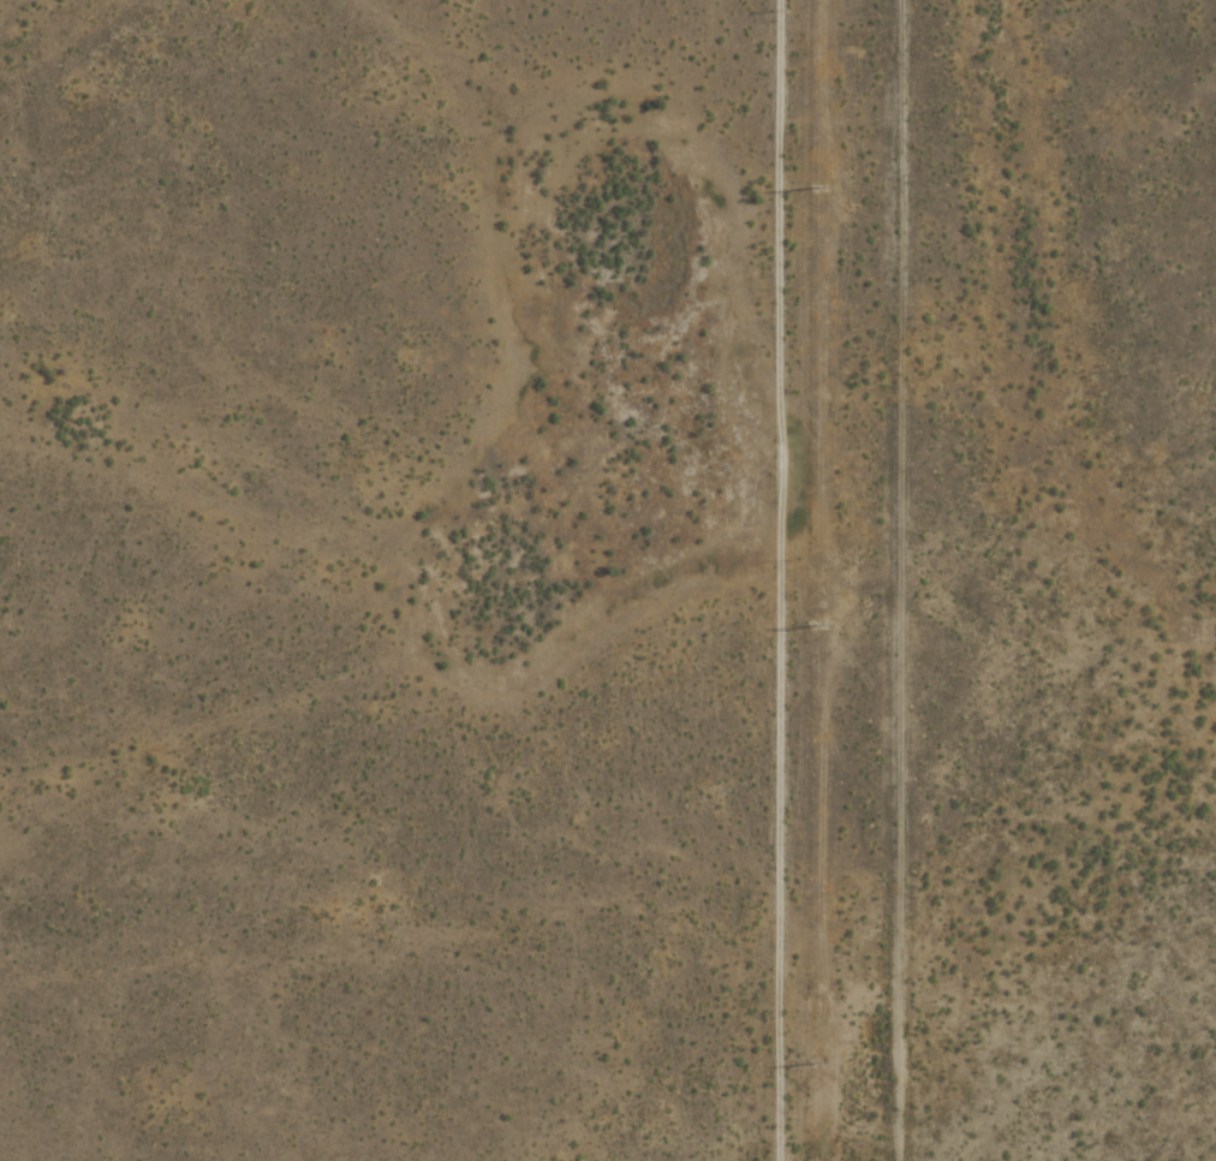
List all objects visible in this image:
power tower: (816, 187)
power tower: (815, 625)
power tower: (817, 1061)

